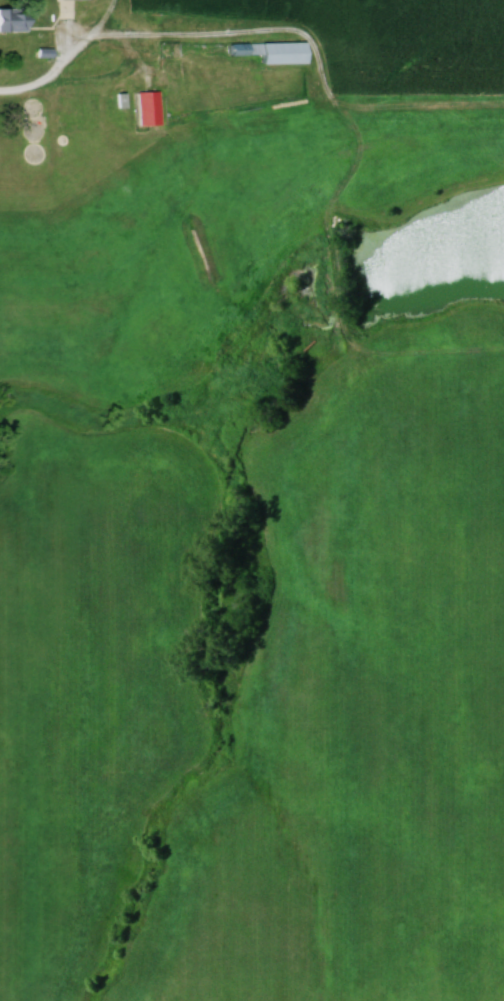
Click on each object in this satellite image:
building: (11, 19)
building: (269, 51)
road: (106, 78)
road: (20, 87)
building: (147, 107)

